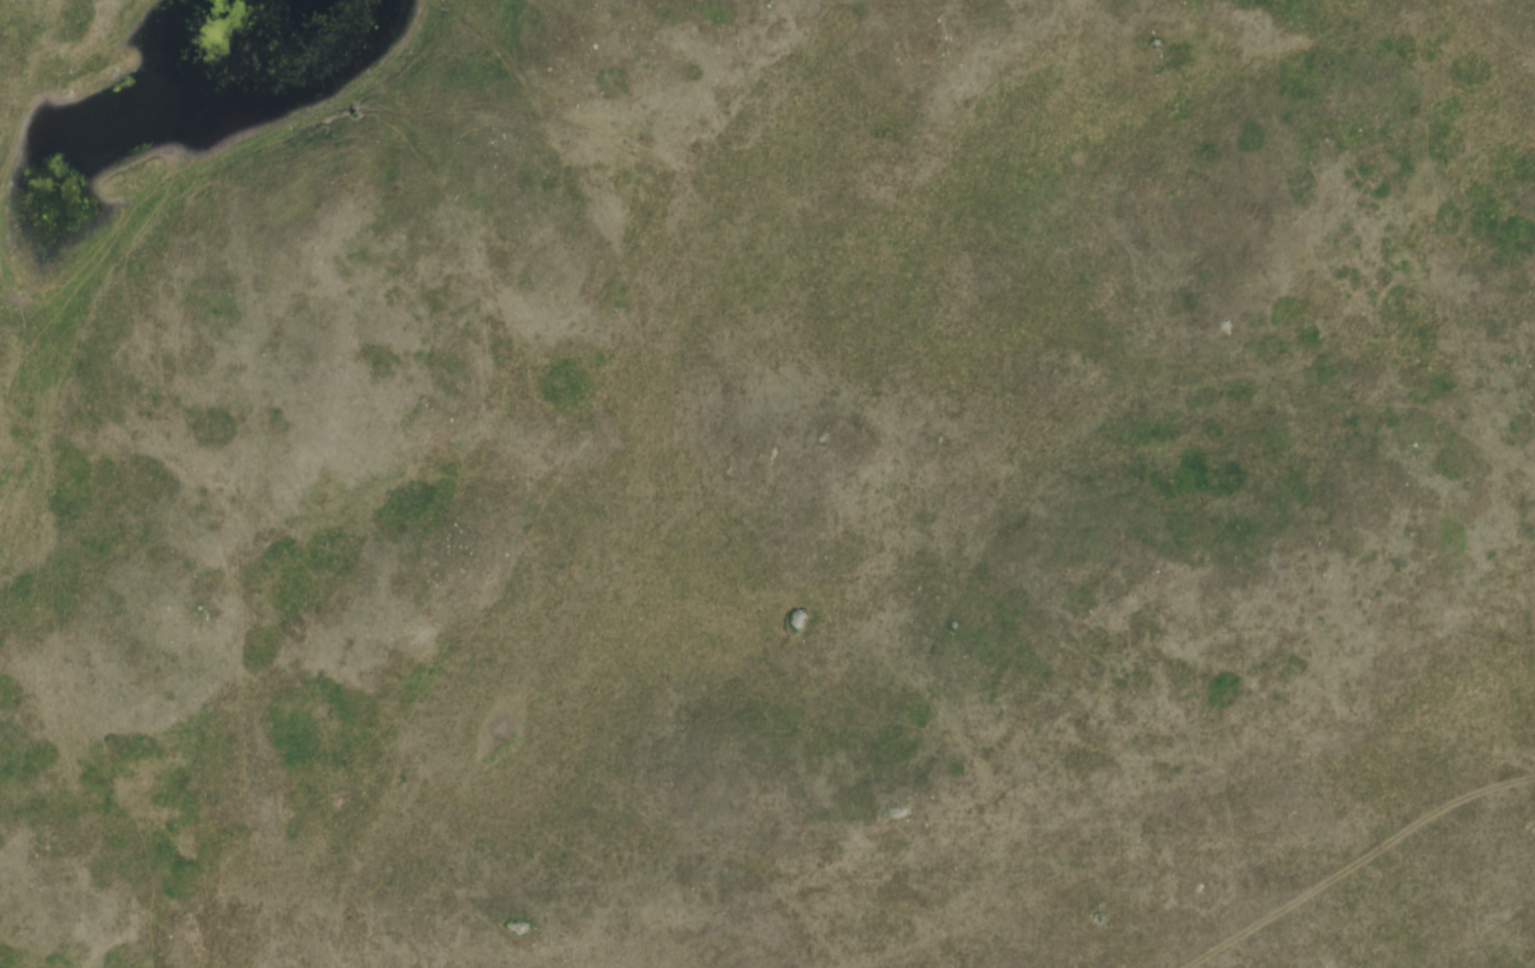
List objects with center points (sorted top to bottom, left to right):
road: (1347, 857)

